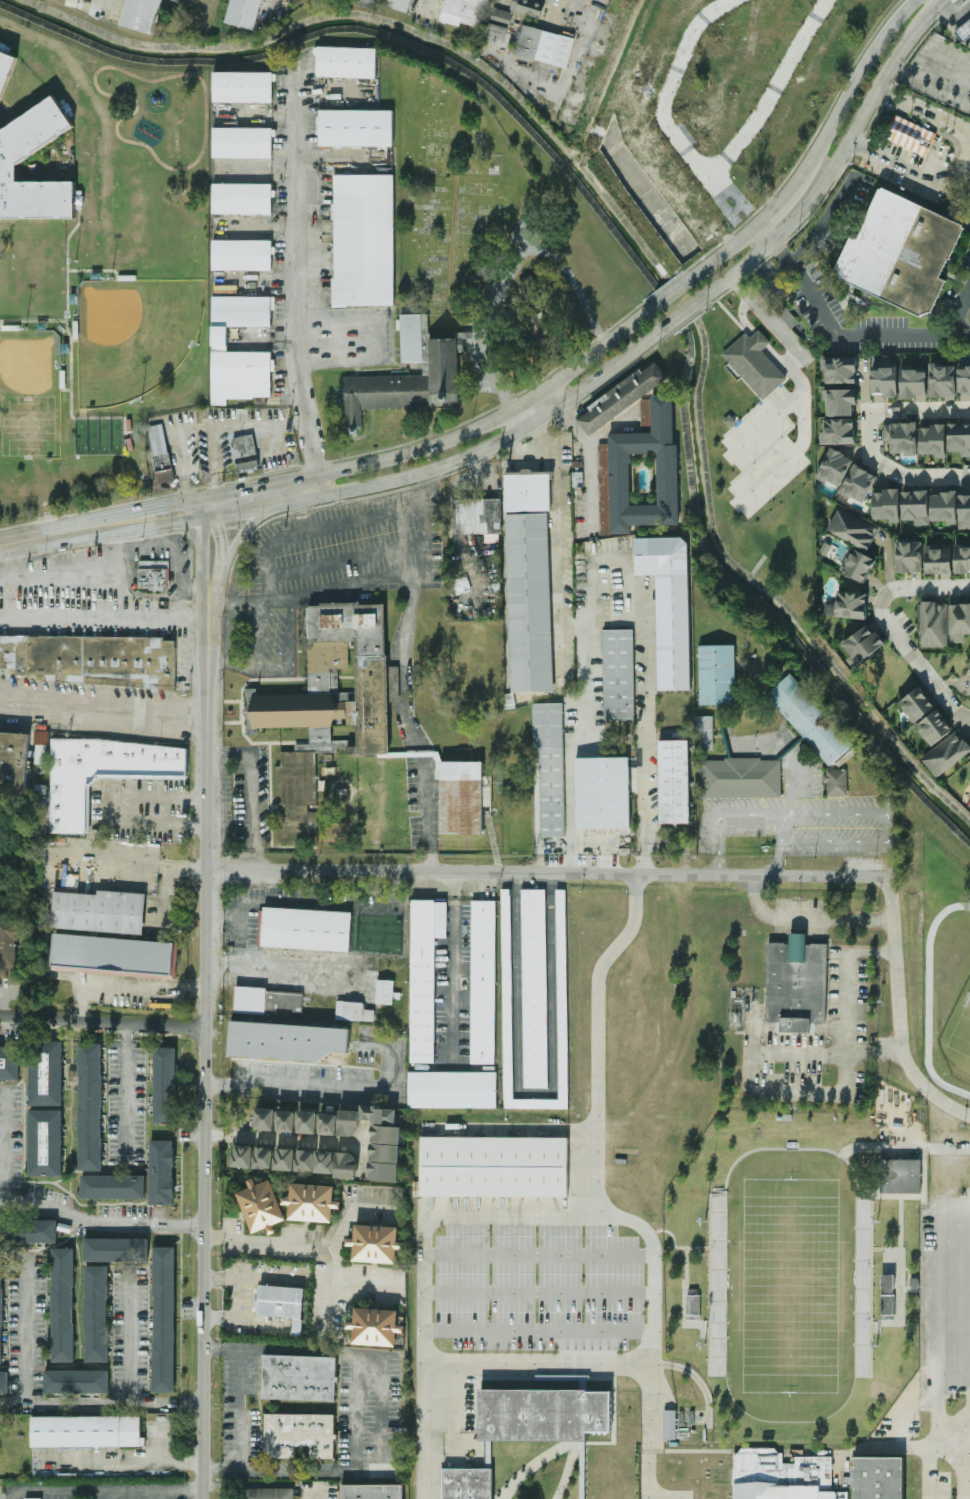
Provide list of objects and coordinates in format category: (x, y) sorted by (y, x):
building: (78, 0)
building: (399, 4)
building: (528, 7)
road: (103, 9)
building: (466, 12)
building: (245, 13)
building: (144, 15)
building: (502, 16)
road: (926, 17)
building: (545, 46)
building: (6, 48)
building: (345, 61)
building: (5, 68)
road: (854, 80)
building: (243, 87)
road: (296, 103)
building: (69, 110)
road: (926, 110)
track: (127, 119)
building: (355, 127)
building: (911, 134)
building: (243, 142)
building: (22, 146)
road: (308, 161)
road: (912, 170)
road: (826, 178)
building: (242, 198)
building: (83, 201)
road: (780, 201)
road: (263, 225)
road: (761, 237)
road: (814, 239)
building: (363, 240)
building: (901, 252)
road: (723, 253)
building: (242, 255)
street lamp: (75, 261)
road: (299, 274)
road: (263, 275)
street lamp: (112, 277)
building: (528, 288)
road: (670, 293)
road: (960, 311)
road: (685, 313)
street lamp: (74, 316)
road: (744, 317)
road: (35, 322)
street lamp: (27, 327)
building: (538, 327)
road: (839, 334)
road: (962, 334)
park: (134, 335)
road: (267, 337)
road: (73, 338)
building: (217, 338)
road: (391, 340)
road: (760, 340)
road: (76, 343)
street lamp: (199, 345)
road: (780, 358)
building: (755, 363)
street lamp: (64, 366)
building: (840, 370)
building: (409, 374)
building: (942, 380)
building: (885, 382)
building: (913, 383)
building: (964, 384)
road: (494, 385)
road: (800, 388)
road: (69, 391)
park: (30, 392)
building: (623, 397)
street lamp: (143, 401)
building: (840, 402)
road: (767, 422)
road: (229, 425)
road: (480, 426)
building: (838, 431)
building: (901, 437)
building: (959, 438)
building: (933, 440)
road: (869, 441)
building: (159, 448)
building: (246, 452)
road: (591, 461)
road: (187, 462)
building: (834, 467)
road: (436, 474)
building: (640, 475)
road: (387, 480)
building: (858, 484)
road: (241, 489)
traffic signals: (239, 490)
building: (526, 492)
road: (298, 505)
building: (886, 505)
building: (915, 507)
building: (943, 507)
road: (136, 509)
building: (964, 512)
building: (478, 518)
traffic signals: (180, 522)
building: (853, 529)
traffic signals: (221, 535)
road: (221, 538)
road: (39, 539)
road: (238, 540)
road: (269, 544)
road: (140, 545)
road: (201, 555)
building: (909, 557)
building: (962, 558)
building: (938, 560)
road: (561, 561)
road: (9, 564)
building: (857, 565)
road: (178, 570)
building: (153, 575)
road: (5, 582)
building: (461, 585)
road: (344, 586)
road: (214, 598)
road: (227, 599)
road: (265, 599)
building: (530, 602)
building: (669, 604)
building: (848, 605)
road: (5, 618)
road: (16, 618)
building: (959, 622)
building: (934, 624)
road: (209, 628)
road: (891, 628)
building: (863, 644)
road: (219, 650)
building: (92, 660)
road: (648, 663)
building: (618, 674)
building: (717, 674)
road: (104, 695)
building: (328, 704)
building: (916, 705)
building: (810, 719)
road: (104, 723)
road: (409, 726)
building: (934, 727)
building: (704, 732)
road: (217, 751)
building: (40, 753)
building: (946, 754)
building: (13, 762)
building: (550, 766)
road: (571, 766)
building: (101, 774)
building: (741, 778)
building: (673, 782)
building: (836, 782)
building: (603, 792)
road: (152, 793)
building: (463, 797)
road: (253, 800)
road: (166, 811)
road: (859, 814)
road: (576, 861)
road: (160, 868)
road: (547, 870)
road: (272, 887)
road: (314, 903)
building: (99, 911)
road: (808, 917)
building: (306, 929)
building: (9, 944)
building: (114, 954)
road: (456, 956)
road: (266, 964)
building: (424, 974)
building: (482, 981)
building: (796, 984)
building: (534, 988)
road: (133, 990)
building: (385, 991)
building: (507, 993)
building: (264, 1001)
road: (845, 1006)
building: (349, 1010)
road: (901, 1011)
road: (102, 1023)
park: (961, 1030)
building: (282, 1042)
road: (206, 1071)
building: (46, 1075)
parking lot: (332, 1075)
building: (164, 1085)
road: (754, 1086)
road: (331, 1089)
building: (452, 1089)
road: (125, 1091)
road: (538, 1095)
building: (90, 1107)
building: (265, 1119)
building: (286, 1121)
building: (307, 1122)
building: (328, 1124)
building: (377, 1138)
road: (285, 1140)
building: (45, 1143)
road: (6, 1147)
road: (364, 1147)
building: (243, 1156)
building: (264, 1158)
building: (295, 1160)
building: (337, 1164)
building: (496, 1165)
building: (162, 1172)
building: (899, 1176)
building: (113, 1187)
road: (601, 1197)
building: (311, 1203)
building: (261, 1205)
road: (100, 1221)
building: (28, 1232)
road: (333, 1243)
building: (375, 1244)
road: (266, 1246)
building: (116, 1249)
road: (539, 1255)
road: (423, 1271)
stadium: (803, 1272)
building: (720, 1280)
building: (863, 1282)
road: (362, 1283)
park: (790, 1284)
building: (888, 1284)
road: (241, 1286)
road: (537, 1291)
building: (280, 1301)
building: (62, 1305)
building: (692, 1305)
building: (888, 1306)
road: (938, 1308)
building: (1, 1309)
building: (96, 1314)
building: (164, 1319)
building: (297, 1327)
building: (374, 1327)
road: (247, 1329)
road: (538, 1330)
road: (26, 1331)
road: (129, 1338)
road: (222, 1349)
road: (539, 1360)
building: (300, 1378)
building: (76, 1381)
building: (4, 1382)
road: (101, 1403)
road: (239, 1409)
road: (380, 1411)
building: (545, 1413)
road: (968, 1414)
building: (670, 1424)
road: (903, 1424)
building: (86, 1431)
building: (299, 1434)
road: (161, 1445)
road: (929, 1449)
road: (965, 1458)
road: (125, 1465)
road: (222, 1469)
building: (782, 1476)
building: (881, 1477)
building: (466, 1483)
road: (101, 1491)
building: (372, 1492)
building: (268, 1493)
road: (109, 1495)
road: (148, 1495)
road: (319, 1495)
road: (14, 1496)
road: (668, 1496)
building: (33, 1498)

